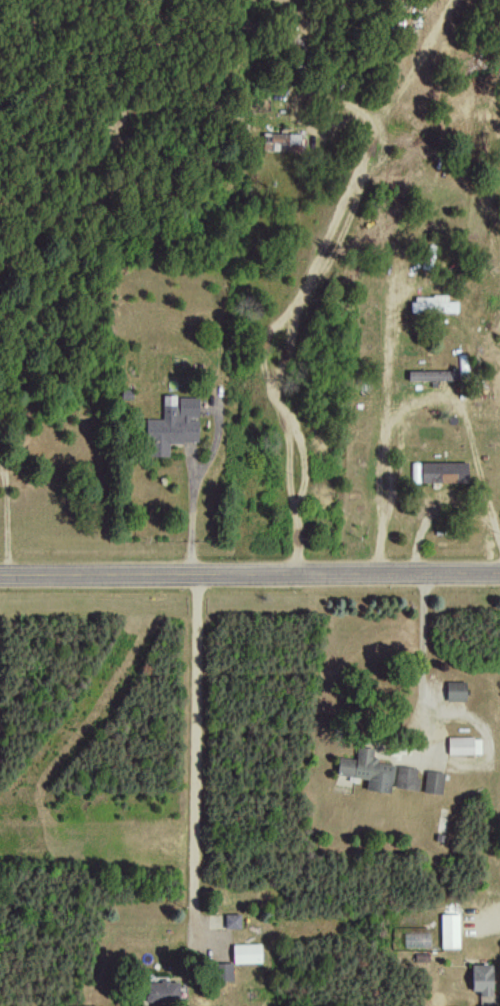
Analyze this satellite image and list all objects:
building: (280, 140)
road: (319, 263)
building: (432, 304)
building: (429, 375)
road: (416, 403)
building: (171, 425)
road: (196, 517)
road: (249, 573)
road: (427, 660)
building: (454, 690)
building: (462, 745)
road: (194, 755)
building: (365, 768)
building: (405, 777)
building: (432, 781)
road: (493, 913)
building: (231, 920)
building: (448, 930)
building: (245, 952)
building: (222, 971)
building: (481, 978)
building: (160, 991)

